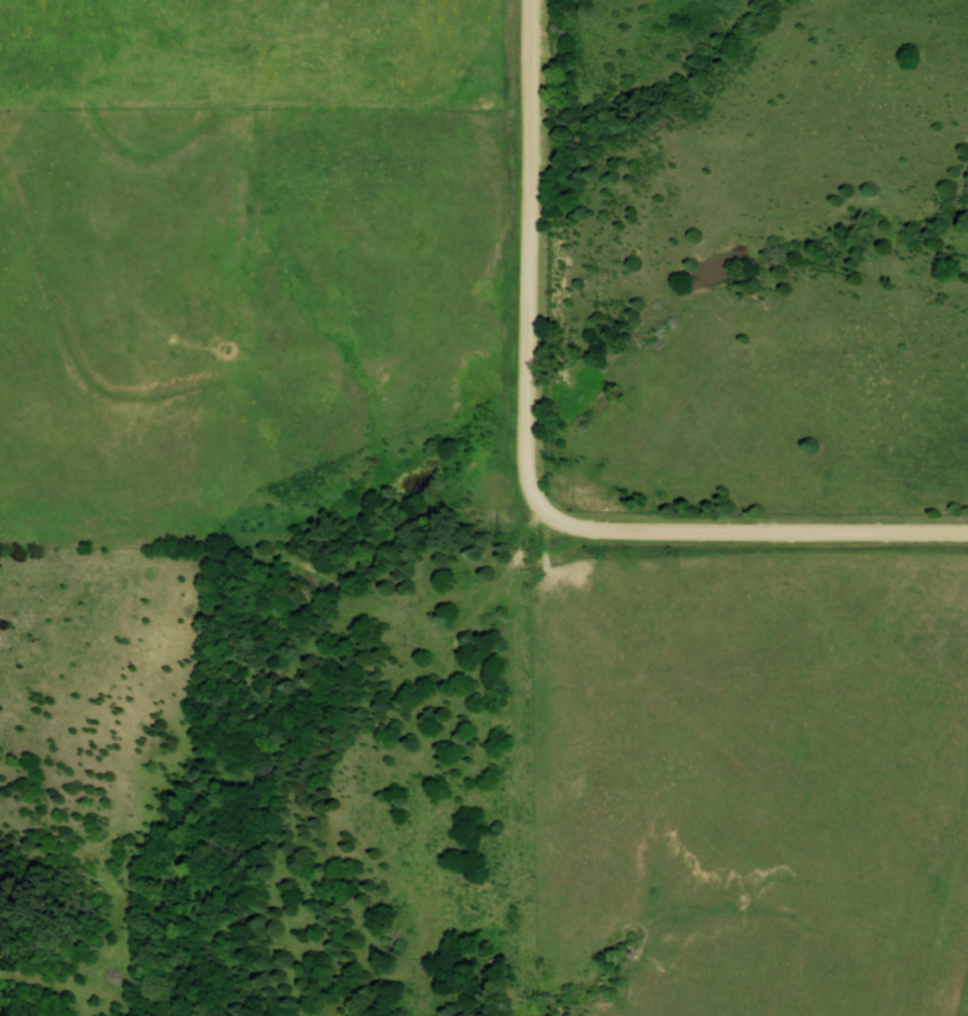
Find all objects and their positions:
road: (525, 272)
road: (765, 536)

